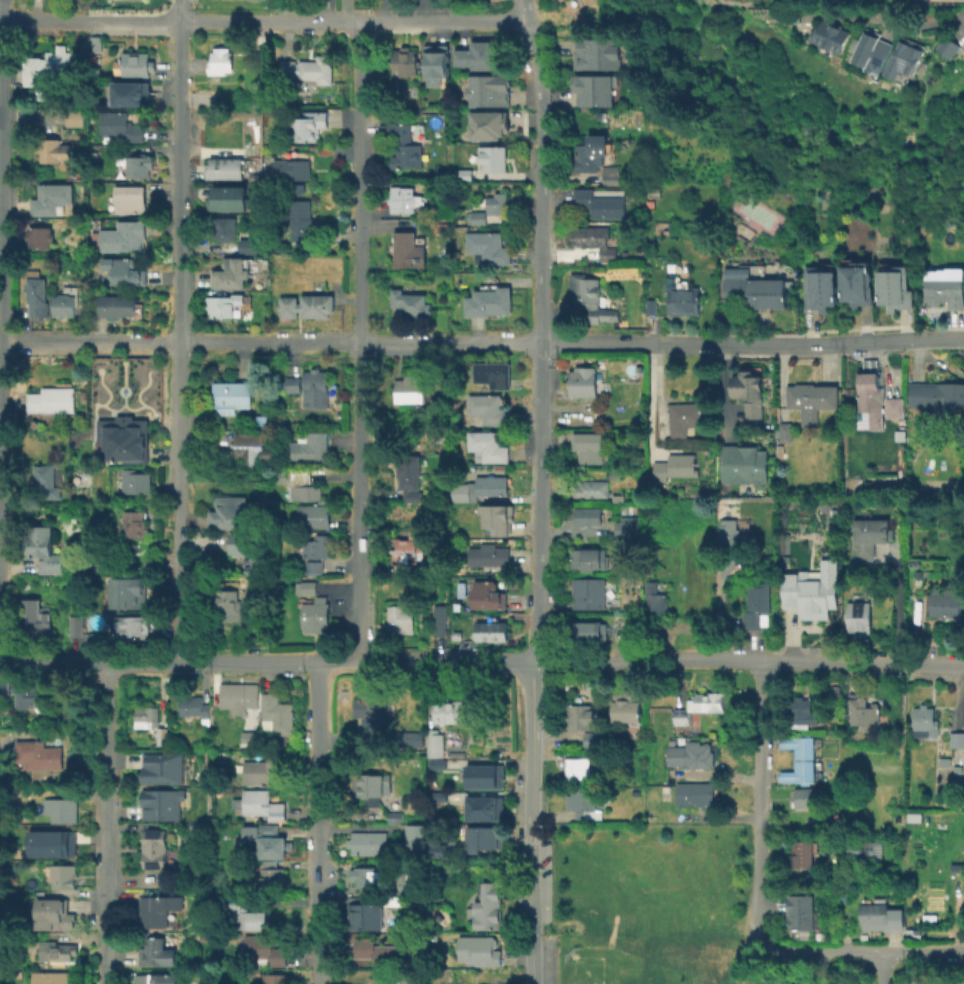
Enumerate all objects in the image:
building: (790, 18)
road: (259, 23)
road: (901, 24)
building: (830, 38)
building: (95, 44)
building: (948, 49)
building: (872, 54)
building: (484, 56)
building: (596, 56)
building: (220, 61)
building: (405, 61)
building: (834, 61)
building: (904, 61)
building: (136, 64)
building: (437, 65)
building: (51, 67)
building: (307, 69)
building: (390, 85)
building: (490, 92)
building: (591, 92)
building: (129, 93)
building: (231, 95)
building: (203, 98)
building: (74, 118)
building: (485, 125)
building: (121, 126)
building: (310, 126)
building: (402, 146)
building: (49, 150)
building: (69, 154)
building: (591, 154)
building: (94, 156)
building: (493, 158)
building: (139, 165)
building: (226, 168)
building: (291, 170)
building: (460, 174)
building: (613, 176)
building: (654, 191)
building: (50, 198)
building: (130, 199)
building: (231, 199)
building: (404, 200)
building: (497, 203)
building: (650, 203)
building: (600, 204)
building: (476, 217)
building: (300, 220)
building: (224, 228)
building: (442, 228)
building: (124, 236)
building: (40, 237)
building: (595, 241)
building: (250, 246)
building: (487, 248)
building: (408, 251)
building: (127, 273)
building: (231, 277)
building: (855, 288)
building: (755, 292)
building: (818, 292)
building: (945, 292)
building: (894, 293)
building: (37, 297)
building: (684, 300)
building: (592, 301)
building: (488, 302)
building: (410, 303)
building: (64, 305)
building: (223, 305)
building: (116, 306)
building: (306, 306)
building: (652, 306)
road: (180, 330)
road: (541, 330)
road: (901, 340)
road: (361, 342)
road: (327, 344)
road: (686, 345)
road: (778, 345)
building: (492, 374)
building: (125, 379)
building: (583, 381)
building: (292, 384)
building: (316, 386)
building: (410, 389)
road: (726, 391)
building: (750, 393)
building: (871, 393)
building: (936, 395)
building: (231, 396)
road: (653, 398)
building: (53, 400)
road: (658, 400)
building: (812, 400)
building: (443, 404)
building: (894, 408)
building: (487, 410)
building: (685, 414)
building: (262, 421)
building: (784, 432)
building: (127, 436)
building: (439, 438)
building: (488, 446)
building: (589, 447)
building: (250, 448)
building: (309, 448)
building: (780, 451)
building: (744, 461)
building: (674, 463)
building: (615, 474)
building: (408, 477)
building: (139, 478)
building: (46, 481)
building: (299, 485)
building: (492, 485)
building: (854, 486)
building: (942, 488)
building: (593, 489)
building: (460, 493)
building: (228, 508)
building: (314, 516)
building: (586, 516)
building: (499, 520)
building: (135, 523)
building: (628, 526)
building: (870, 531)
building: (730, 536)
building: (252, 547)
building: (317, 547)
building: (45, 550)
building: (405, 550)
building: (491, 557)
building: (590, 558)
building: (315, 568)
building: (651, 571)
building: (129, 587)
building: (308, 587)
building: (811, 590)
building: (590, 592)
building: (488, 595)
building: (656, 598)
road: (896, 603)
building: (944, 604)
building: (229, 605)
building: (756, 606)
building: (317, 615)
building: (859, 617)
building: (38, 618)
building: (401, 619)
building: (442, 619)
building: (135, 627)
building: (78, 629)
building: (494, 631)
building: (590, 631)
building: (95, 639)
road: (267, 661)
road: (750, 662)
building: (24, 692)
building: (238, 696)
building: (625, 703)
building: (701, 705)
building: (863, 707)
building: (197, 708)
building: (375, 710)
building: (451, 710)
building: (800, 710)
building: (279, 715)
building: (581, 716)
building: (148, 717)
building: (924, 721)
building: (163, 735)
building: (408, 739)
building: (593, 739)
building: (956, 739)
building: (435, 743)
building: (796, 745)
building: (39, 754)
building: (691, 755)
building: (944, 762)
building: (435, 763)
building: (164, 768)
building: (264, 768)
building: (578, 768)
building: (796, 772)
building: (482, 776)
building: (369, 787)
building: (435, 794)
building: (695, 794)
building: (807, 797)
building: (584, 801)
building: (163, 803)
building: (264, 804)
road: (757, 804)
building: (476, 808)
building: (62, 810)
building: (914, 815)
building: (395, 817)
road: (320, 823)
road: (531, 823)
road: (105, 824)
building: (433, 833)
building: (417, 836)
building: (486, 837)
building: (266, 840)
building: (49, 843)
building: (369, 843)
building: (859, 847)
building: (155, 848)
building: (801, 854)
building: (957, 866)
building: (275, 874)
building: (65, 877)
building: (367, 877)
building: (406, 883)
building: (394, 900)
building: (487, 905)
building: (801, 908)
building: (158, 910)
building: (56, 911)
building: (243, 913)
building: (366, 916)
building: (881, 917)
building: (265, 949)
building: (479, 949)
building: (157, 950)
building: (57, 951)
road: (861, 951)
building: (379, 952)
road: (881, 968)
park: (602, 969)
building: (269, 976)
building: (51, 978)
building: (153, 979)
building: (401, 979)

